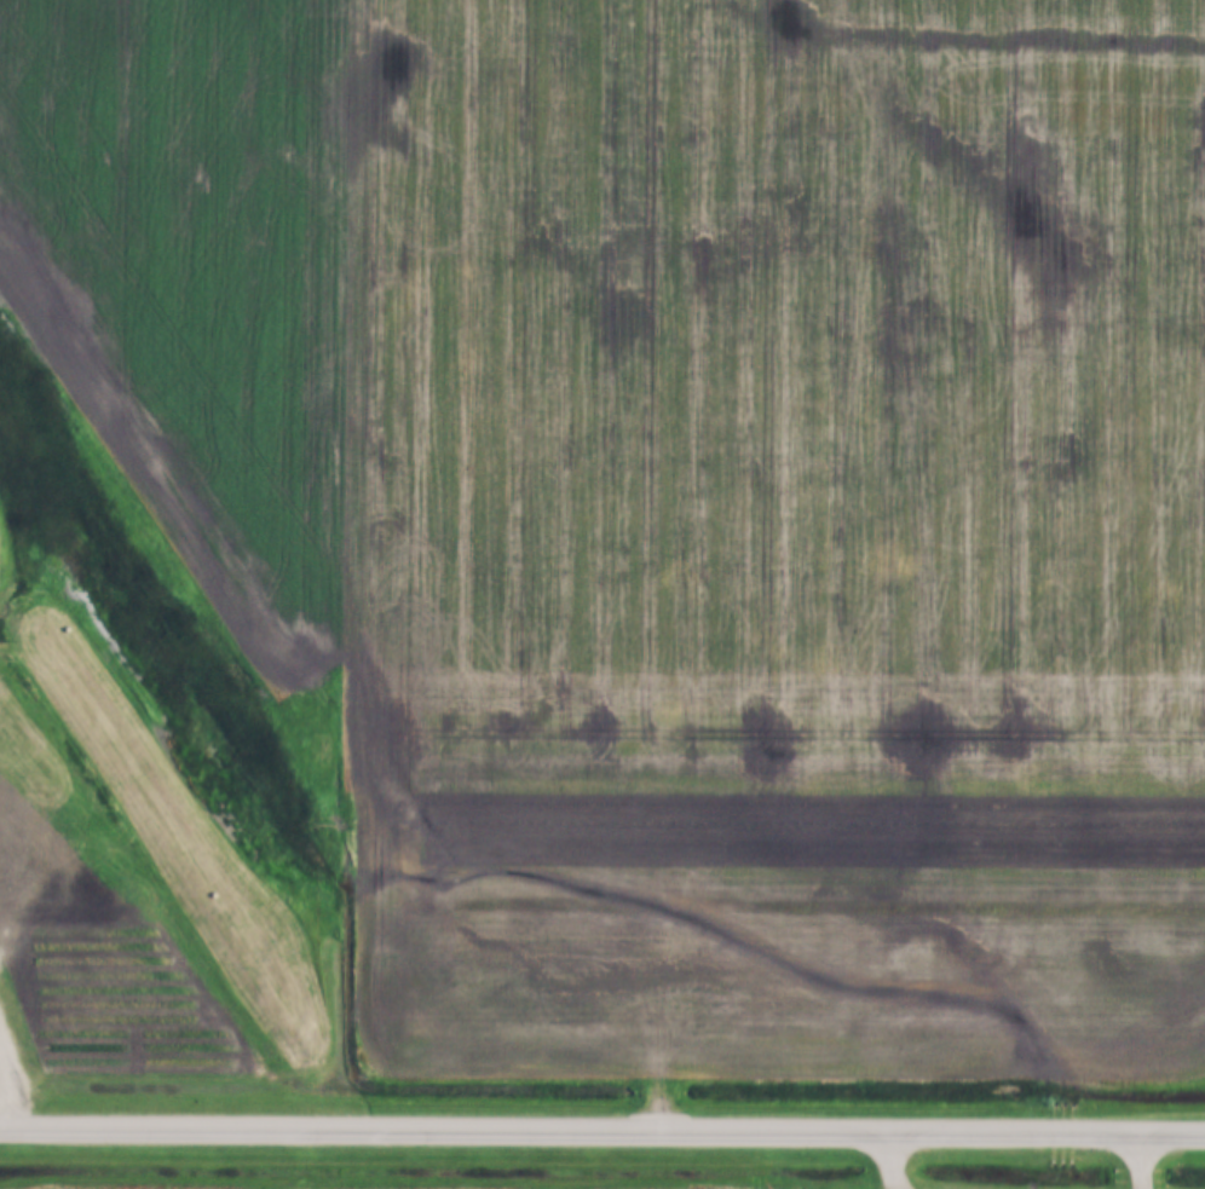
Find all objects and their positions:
road: (602, 1135)
road: (887, 1161)
road: (1137, 1161)
crop: (386, 1181)

